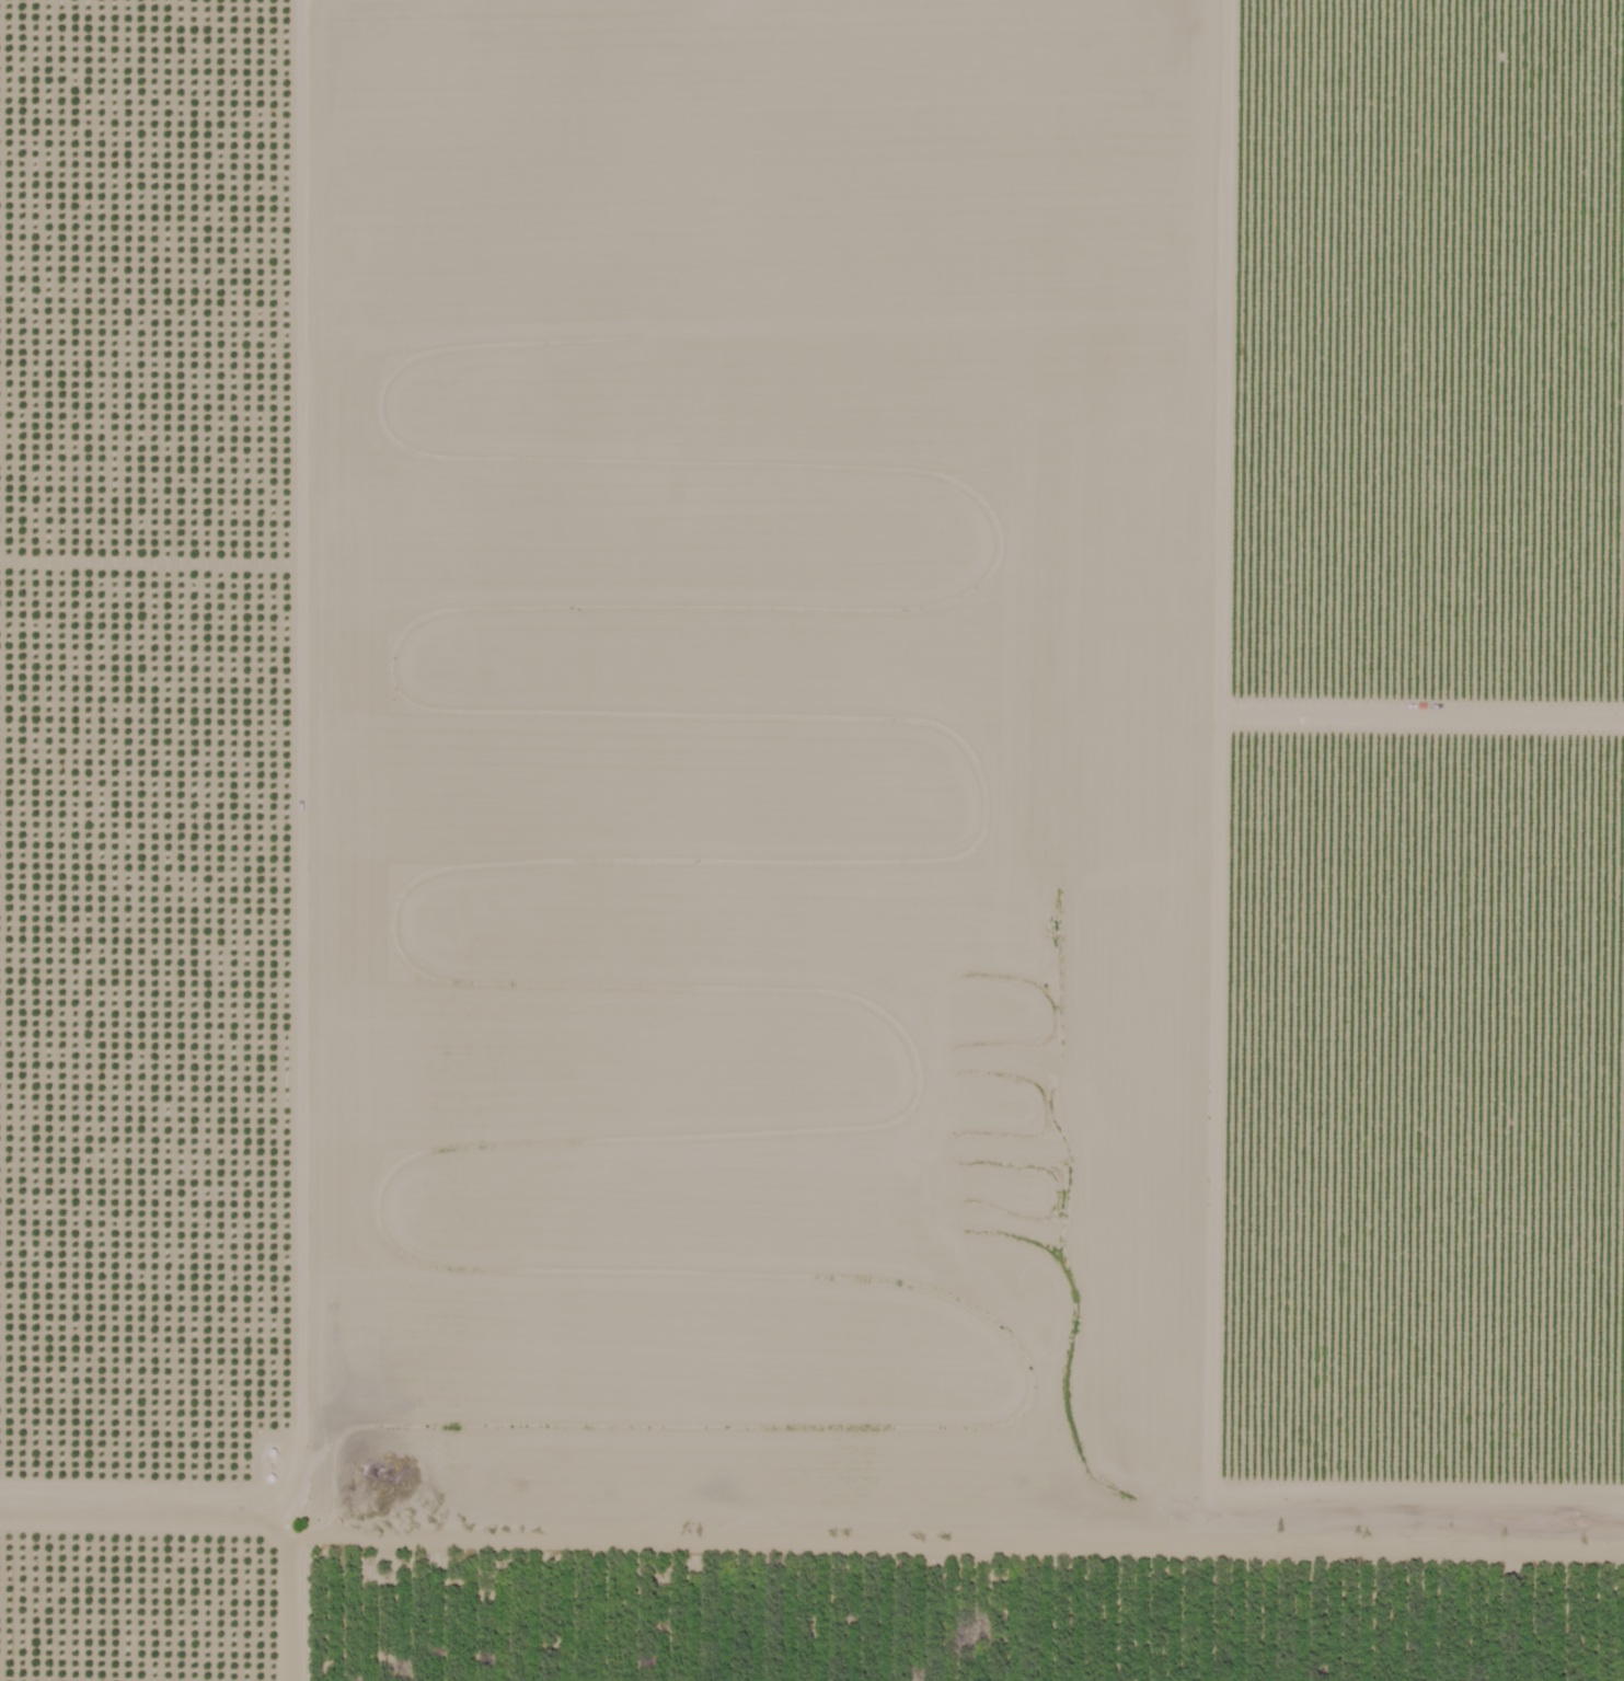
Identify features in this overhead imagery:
crop: (1458, 262)
crop: (834, 713)
crop: (1455, 975)
crop: (994, 1553)

